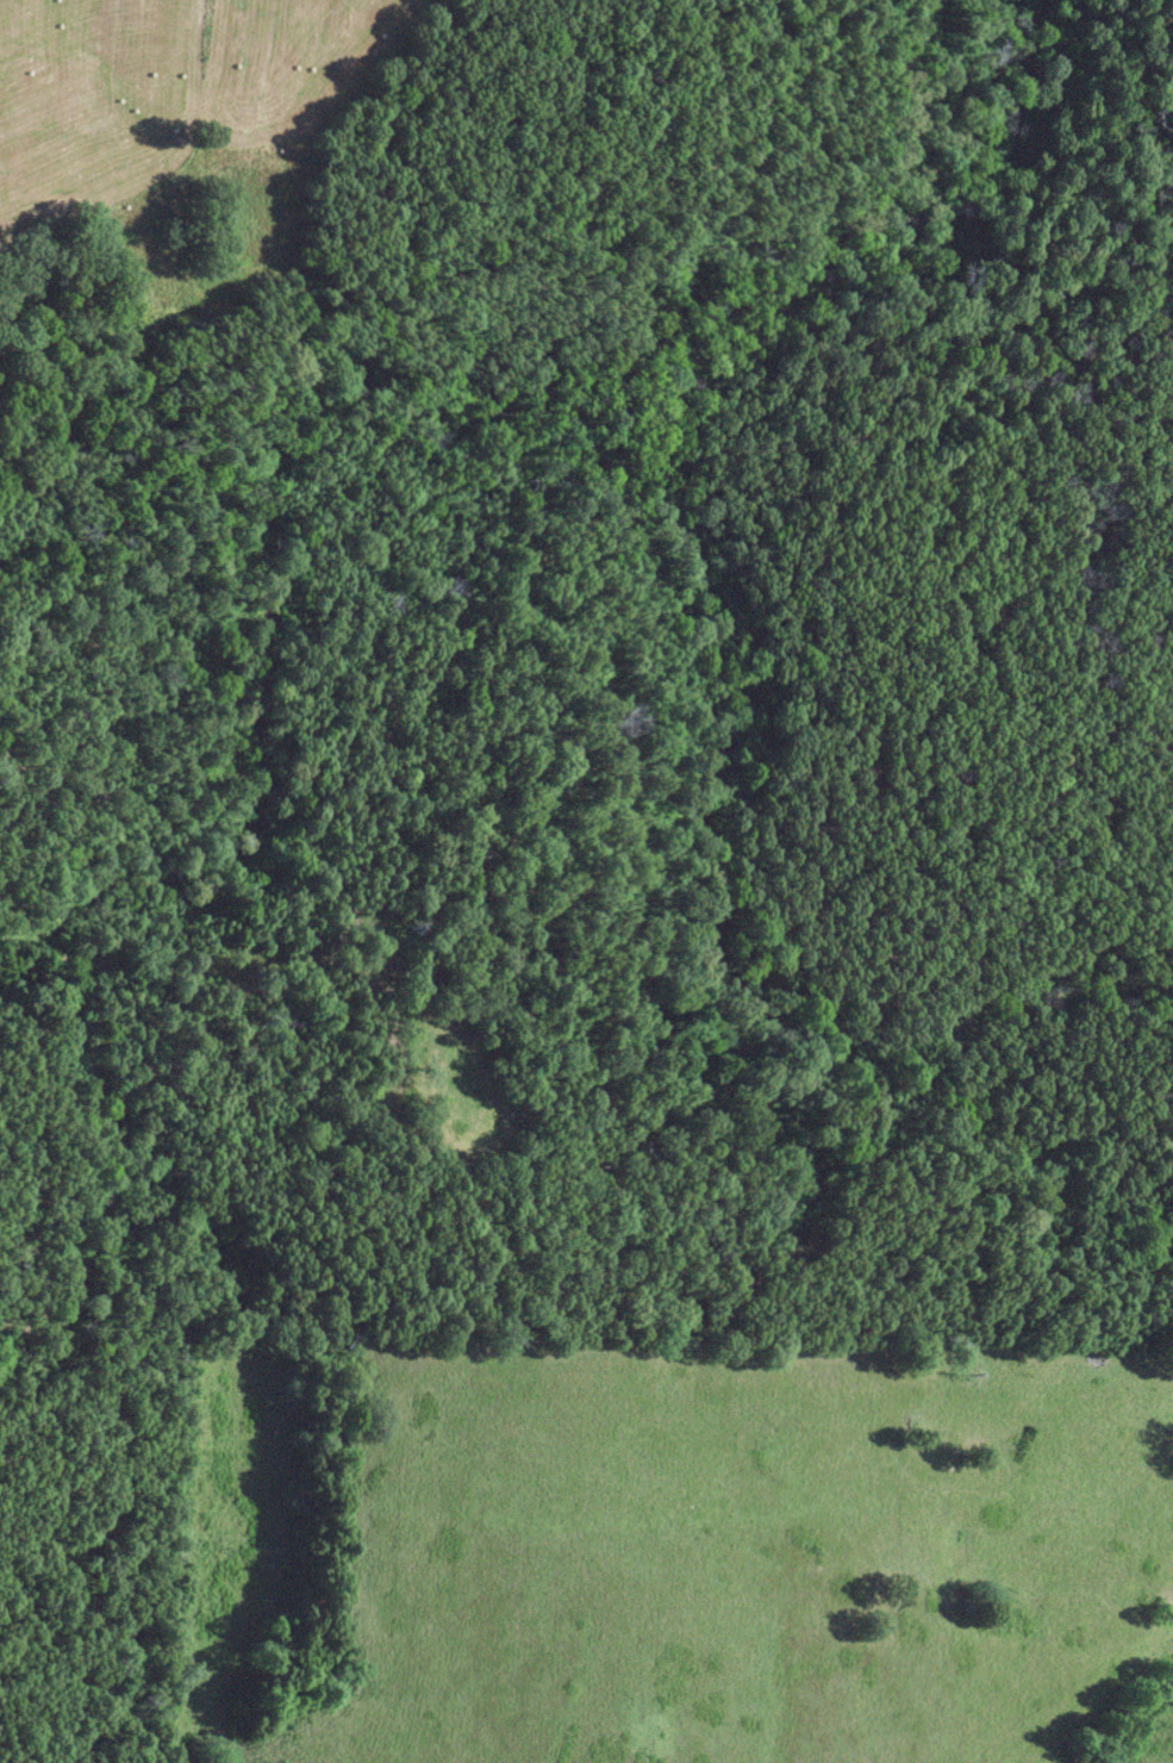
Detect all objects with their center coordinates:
road: (1102, 1576)

